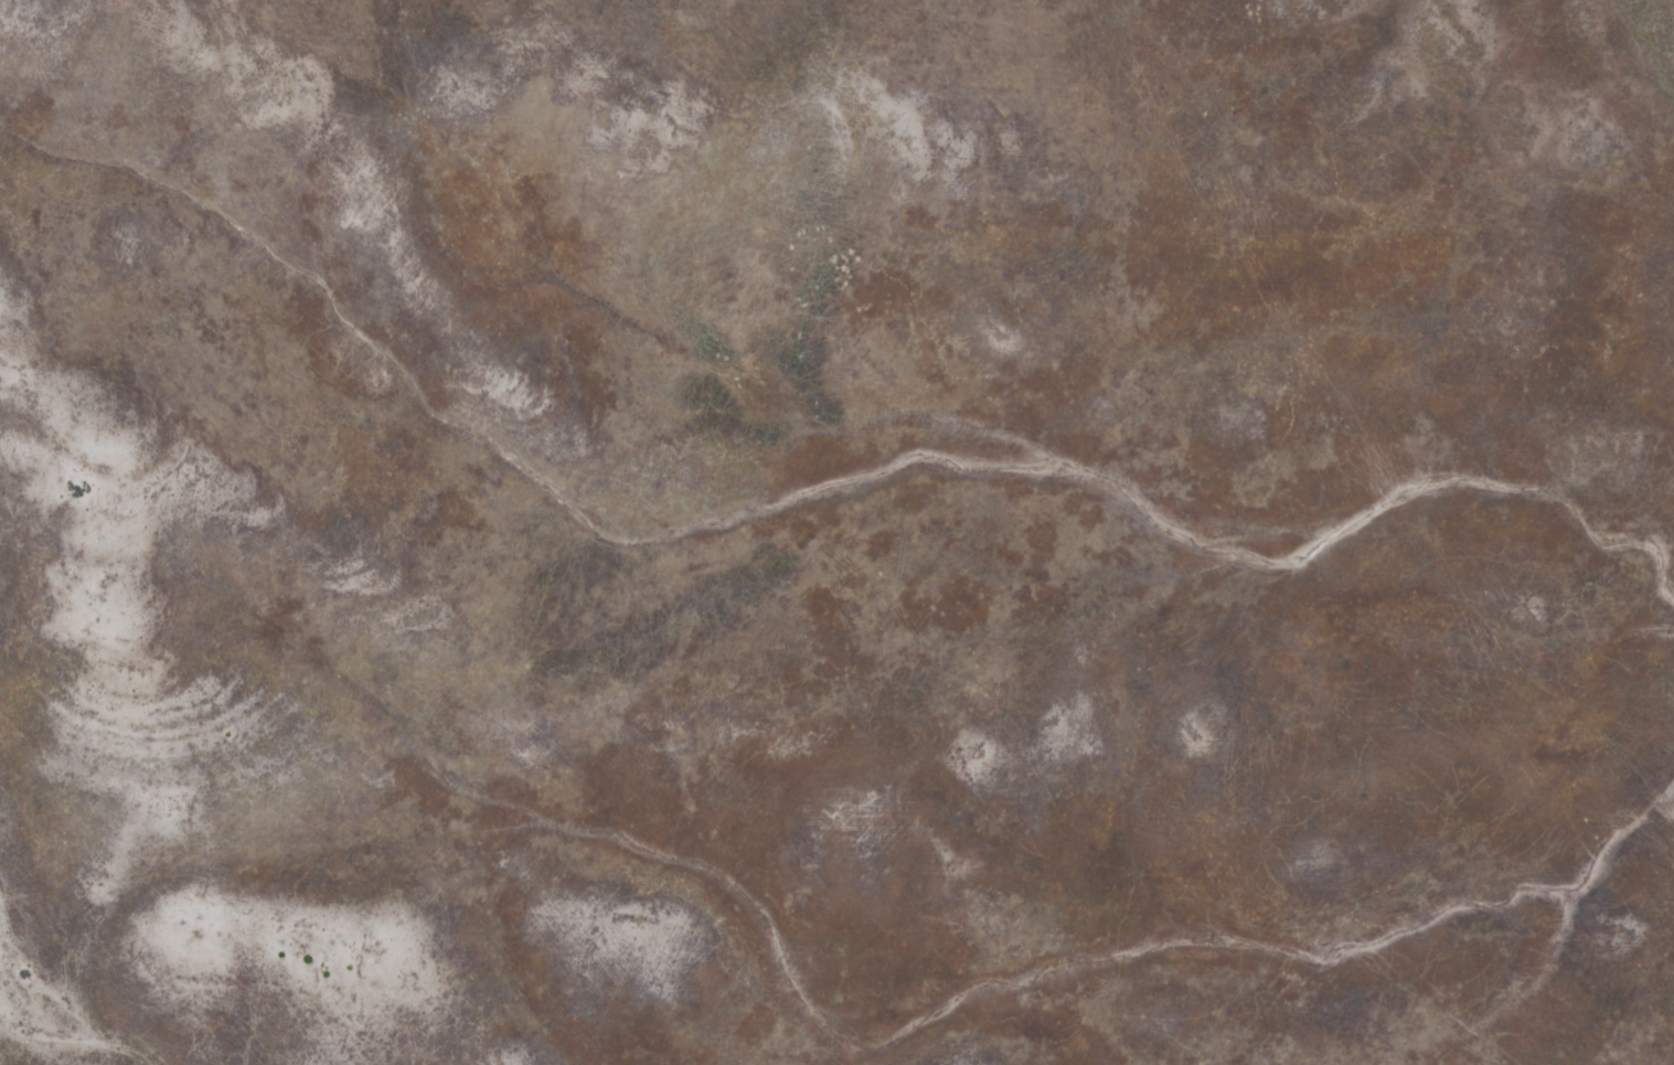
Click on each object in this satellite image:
solar farm: (836, 532)

